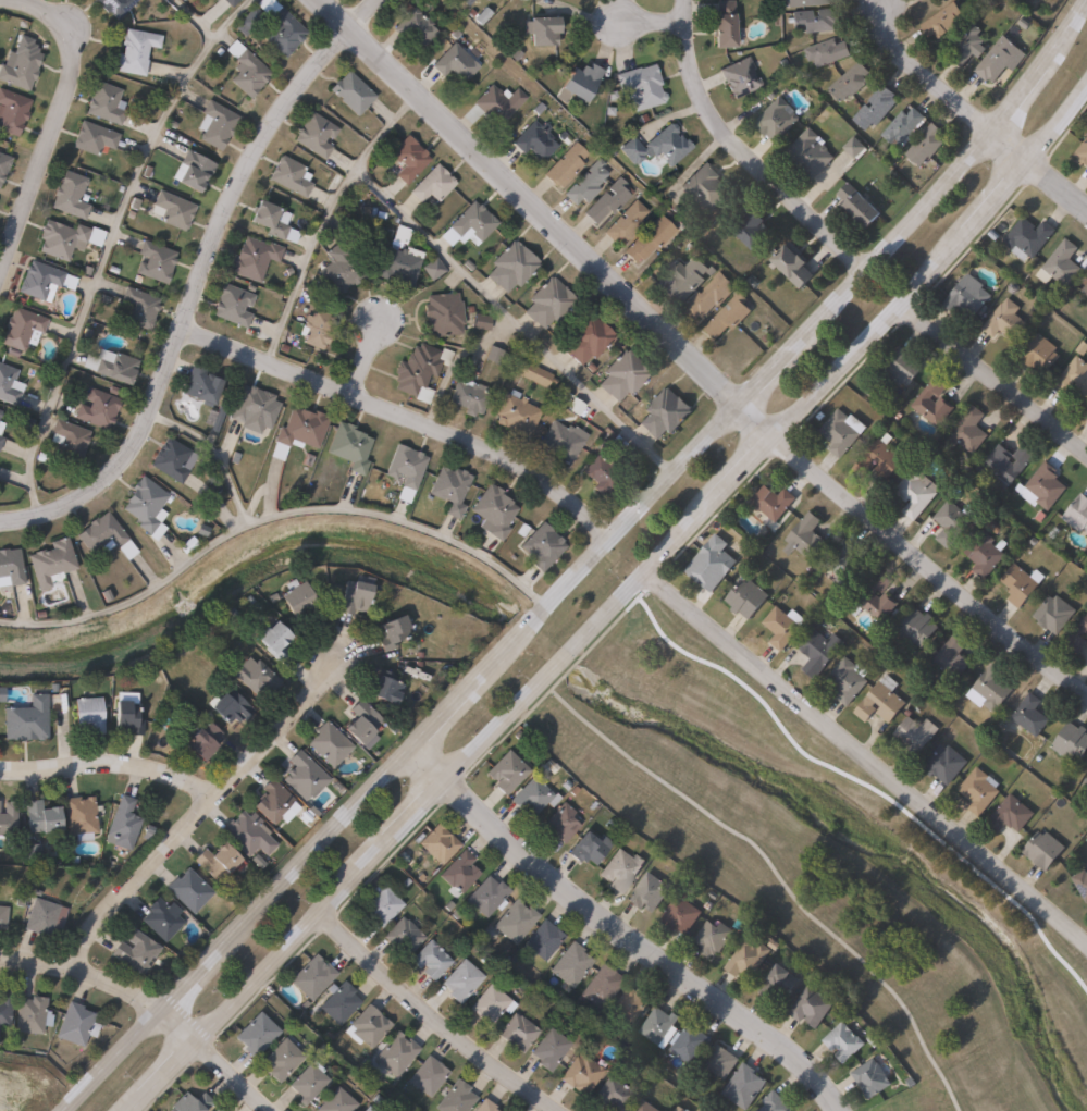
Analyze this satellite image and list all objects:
building: (96, 0)
building: (936, 0)
building: (228, 2)
building: (465, 2)
building: (804, 3)
building: (114, 7)
road: (644, 12)
road: (188, 20)
building: (250, 20)
building: (815, 20)
building: (942, 20)
building: (722, 23)
building: (417, 25)
building: (280, 27)
building: (540, 28)
building: (965, 44)
building: (133, 50)
building: (826, 51)
building: (996, 59)
building: (455, 61)
building: (18, 66)
building: (245, 69)
road: (924, 69)
building: (739, 76)
building: (849, 81)
building: (578, 82)
building: (640, 87)
building: (350, 91)
building: (103, 102)
building: (498, 102)
building: (875, 107)
building: (11, 111)
building: (775, 119)
road: (52, 121)
building: (214, 124)
building: (901, 126)
building: (313, 133)
building: (92, 137)
building: (534, 139)
building: (667, 144)
building: (924, 145)
building: (853, 146)
road: (742, 149)
building: (1082, 152)
building: (808, 153)
building: (407, 158)
building: (3, 163)
building: (564, 164)
building: (192, 169)
road: (1037, 170)
building: (289, 175)
building: (432, 183)
building: (585, 183)
building: (704, 187)
building: (71, 194)
road: (526, 200)
building: (606, 200)
building: (856, 205)
building: (173, 209)
road: (322, 215)
building: (271, 220)
building: (625, 222)
building: (468, 224)
building: (334, 226)
building: (752, 230)
building: (400, 233)
building: (60, 237)
building: (647, 237)
building: (1026, 237)
road: (104, 242)
building: (252, 257)
building: (153, 261)
building: (1062, 262)
building: (398, 263)
building: (791, 263)
building: (510, 266)
building: (339, 268)
building: (431, 268)
road: (197, 279)
building: (683, 279)
building: (38, 280)
building: (1085, 289)
building: (708, 296)
building: (966, 298)
building: (546, 303)
building: (232, 305)
building: (138, 307)
building: (442, 313)
building: (727, 316)
road: (509, 320)
building: (1004, 320)
building: (480, 321)
building: (20, 328)
building: (255, 329)
building: (313, 332)
building: (585, 337)
road: (359, 354)
building: (493, 354)
building: (1039, 354)
building: (115, 367)
building: (901, 367)
building: (418, 370)
building: (535, 374)
building: (622, 375)
building: (1074, 375)
road: (991, 379)
building: (3, 383)
building: (198, 384)
building: (468, 396)
building: (931, 403)
building: (250, 405)
building: (96, 408)
building: (0, 409)
building: (664, 412)
road: (404, 413)
building: (516, 413)
building: (214, 415)
road: (749, 420)
building: (0, 423)
building: (966, 430)
building: (297, 431)
building: (838, 432)
building: (0, 437)
building: (66, 439)
building: (559, 441)
building: (348, 446)
road: (212, 454)
building: (878, 458)
building: (170, 459)
building: (1006, 462)
building: (405, 469)
building: (600, 474)
building: (1043, 487)
building: (449, 490)
building: (913, 493)
building: (770, 505)
building: (145, 506)
building: (494, 510)
building: (1077, 514)
road: (271, 517)
building: (952, 522)
building: (100, 534)
building: (805, 535)
building: (542, 545)
building: (984, 554)
building: (50, 561)
building: (709, 563)
road: (582, 564)
building: (843, 564)
road: (925, 566)
building: (10, 567)
building: (1021, 584)
building: (353, 597)
building: (876, 597)
building: (297, 598)
building: (744, 598)
road: (610, 605)
building: (1053, 614)
building: (781, 627)
building: (916, 628)
building: (394, 629)
building: (1078, 637)
building: (270, 640)
building: (818, 652)
building: (952, 658)
building: (254, 675)
building: (847, 680)
building: (992, 688)
building: (383, 689)
building: (879, 702)
building: (227, 708)
building: (87, 713)
building: (1029, 715)
building: (124, 717)
building: (24, 720)
building: (359, 723)
building: (913, 736)
building: (198, 740)
building: (1071, 742)
building: (328, 744)
road: (864, 757)
road: (108, 760)
building: (943, 765)
building: (506, 773)
building: (302, 776)
building: (1085, 783)
building: (978, 791)
building: (530, 797)
building: (270, 802)
road: (197, 807)
building: (1010, 815)
building: (78, 816)
building: (38, 818)
building: (8, 822)
building: (122, 824)
building: (559, 824)
building: (246, 835)
building: (437, 843)
building: (588, 849)
building: (1042, 850)
building: (33, 851)
park: (848, 853)
building: (213, 862)
building: (619, 871)
building: (458, 873)
road: (775, 879)
building: (1080, 884)
building: (187, 890)
building: (647, 893)
building: (485, 896)
building: (378, 903)
building: (2, 916)
building: (679, 916)
building: (42, 918)
building: (159, 919)
building: (514, 921)
road: (623, 929)
building: (402, 935)
building: (712, 939)
building: (541, 941)
building: (133, 951)
building: (429, 959)
building: (745, 960)
building: (569, 965)
building: (311, 975)
building: (459, 979)
building: (777, 984)
building: (600, 985)
building: (338, 1001)
building: (489, 1002)
road: (151, 1003)
building: (628, 1003)
building: (3, 1007)
building: (810, 1008)
building: (30, 1014)
road: (434, 1016)
building: (75, 1023)
building: (367, 1025)
building: (657, 1026)
building: (516, 1030)
building: (255, 1032)
building: (689, 1042)
building: (842, 1042)
building: (547, 1048)
building: (395, 1052)
building: (279, 1058)
building: (719, 1060)
building: (579, 1072)
building: (428, 1075)
building: (870, 1078)
building: (306, 1081)
building: (742, 1085)
building: (610, 1094)
building: (454, 1097)
building: (335, 1101)
building: (188, 1102)
building: (774, 1102)
building: (483, 1106)
building: (644, 1106)
building: (679, 1108)
building: (215, 1109)
building: (366, 1109)

